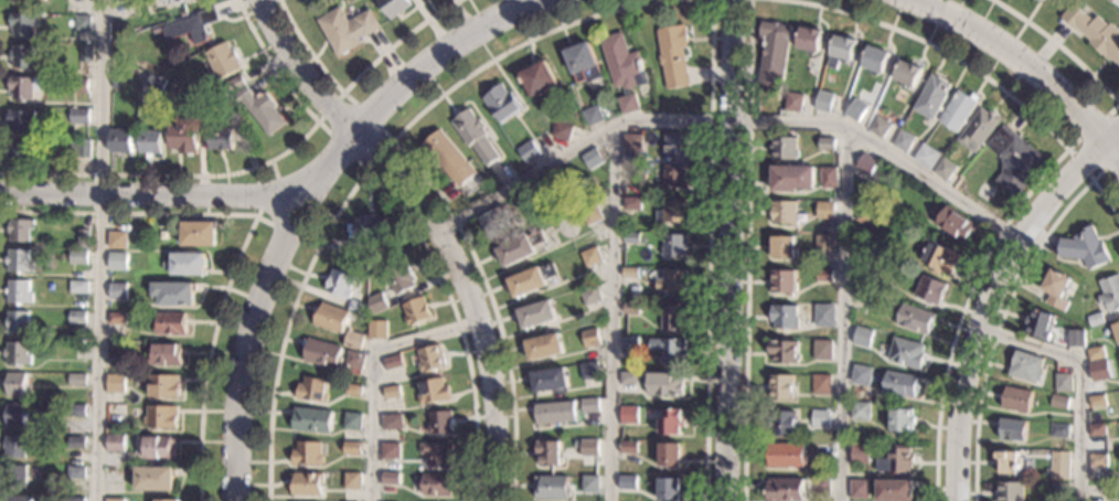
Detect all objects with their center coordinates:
building: (29, 0)
building: (164, 0)
building: (1041, 0)
building: (178, 2)
building: (125, 7)
building: (394, 7)
building: (82, 22)
building: (22, 24)
building: (192, 26)
building: (347, 29)
building: (156, 31)
building: (1095, 32)
building: (809, 40)
road: (1059, 45)
building: (841, 51)
building: (774, 53)
building: (85, 54)
building: (673, 55)
building: (23, 56)
road: (1017, 60)
building: (223, 61)
building: (875, 61)
building: (583, 63)
building: (624, 70)
road: (299, 72)
building: (906, 74)
road: (354, 78)
building: (539, 78)
building: (122, 83)
building: (157, 83)
building: (233, 84)
building: (78, 85)
building: (24, 87)
building: (931, 96)
building: (824, 102)
building: (198, 103)
building: (502, 103)
building: (793, 103)
building: (228, 108)
building: (262, 109)
building: (856, 109)
building: (958, 110)
building: (593, 115)
building: (79, 116)
road: (729, 119)
building: (22, 121)
building: (880, 127)
building: (977, 129)
building: (561, 130)
building: (475, 136)
road: (1112, 136)
building: (184, 137)
building: (221, 139)
road: (393, 140)
building: (904, 140)
building: (120, 141)
building: (150, 141)
building: (632, 143)
building: (827, 143)
building: (675, 146)
building: (784, 148)
building: (81, 149)
road: (1112, 150)
building: (529, 151)
road: (1068, 151)
building: (19, 156)
building: (926, 156)
building: (448, 157)
building: (592, 158)
building: (1014, 159)
building: (865, 167)
building: (945, 169)
road: (417, 170)
building: (631, 170)
road: (238, 171)
road: (369, 172)
road: (1045, 173)
building: (675, 175)
building: (791, 178)
building: (828, 178)
road: (305, 192)
building: (631, 203)
building: (672, 211)
building: (784, 212)
building: (825, 213)
road: (128, 214)
building: (590, 215)
building: (866, 216)
road: (263, 218)
building: (495, 221)
building: (955, 224)
building: (370, 228)
building: (20, 230)
building: (198, 234)
building: (630, 237)
building: (83, 238)
building: (117, 239)
building: (824, 244)
building: (674, 245)
building: (520, 247)
building: (784, 247)
building: (1085, 248)
road: (710, 249)
road: (728, 249)
road: (102, 250)
road: (747, 250)
building: (590, 256)
building: (862, 256)
building: (78, 257)
building: (362, 257)
building: (940, 258)
building: (19, 260)
building: (119, 262)
building: (186, 264)
building: (630, 273)
building: (398, 276)
building: (824, 276)
building: (531, 279)
building: (668, 280)
building: (782, 281)
building: (339, 284)
building: (79, 287)
building: (1056, 288)
building: (930, 290)
building: (19, 291)
building: (118, 291)
building: (1110, 292)
building: (174, 294)
building: (861, 295)
building: (590, 299)
road: (467, 300)
road: (987, 301)
building: (377, 302)
road: (1005, 303)
building: (356, 307)
building: (630, 308)
building: (415, 311)
road: (615, 311)
road: (841, 312)
building: (536, 313)
building: (672, 316)
building: (824, 316)
building: (77, 317)
building: (784, 317)
building: (117, 318)
building: (330, 318)
building: (915, 319)
building: (1096, 319)
building: (1080, 321)
building: (19, 322)
building: (171, 323)
building: (1040, 323)
building: (376, 330)
building: (1117, 330)
building: (589, 337)
building: (862, 337)
building: (1076, 339)
building: (353, 341)
building: (629, 343)
building: (544, 347)
road: (246, 348)
building: (77, 349)
building: (669, 349)
building: (822, 350)
building: (117, 351)
building: (784, 351)
building: (906, 352)
building: (18, 353)
building: (321, 353)
building: (1096, 353)
building: (166, 354)
road: (207, 354)
building: (429, 358)
building: (392, 362)
building: (354, 363)
building: (1025, 366)
building: (589, 370)
building: (1098, 370)
road: (377, 375)
building: (861, 375)
road: (1077, 376)
building: (629, 377)
building: (76, 380)
building: (550, 380)
building: (1063, 382)
building: (899, 383)
building: (17, 384)
building: (116, 384)
building: (664, 384)
building: (821, 384)
building: (162, 386)
building: (780, 386)
building: (311, 390)
building: (353, 390)
building: (433, 391)
building: (392, 392)
building: (1016, 398)
building: (1097, 401)
building: (1059, 402)
building: (589, 405)
building: (77, 411)
building: (860, 411)
building: (555, 412)
building: (116, 413)
building: (822, 414)
building: (14, 415)
building: (629, 415)
building: (161, 417)
building: (902, 419)
building: (311, 420)
building: (352, 422)
building: (392, 422)
building: (439, 422)
building: (671, 422)
building: (782, 423)
building: (1012, 429)
building: (1096, 429)
building: (1059, 430)
building: (76, 443)
building: (115, 443)
building: (576, 443)
building: (13, 446)
building: (589, 447)
building: (629, 447)
building: (158, 448)
building: (352, 448)
building: (822, 449)
building: (390, 451)
building: (548, 452)
building: (306, 454)
building: (436, 454)
building: (670, 454)
building: (860, 454)
building: (786, 455)
building: (1097, 460)
building: (895, 461)
building: (1009, 462)
building: (1059, 465)
building: (76, 472)
building: (115, 475)
building: (14, 476)
building: (154, 478)
building: (390, 478)
building: (352, 481)
building: (628, 482)
building: (306, 483)
building: (590, 483)
building: (436, 484)
building: (552, 487)
building: (821, 487)
building: (1058, 488)
building: (669, 489)
building: (786, 489)
building: (859, 489)
building: (895, 490)
building: (1011, 491)
building: (17, 499)
building: (75, 499)
building: (114, 500)
building: (166, 500)

